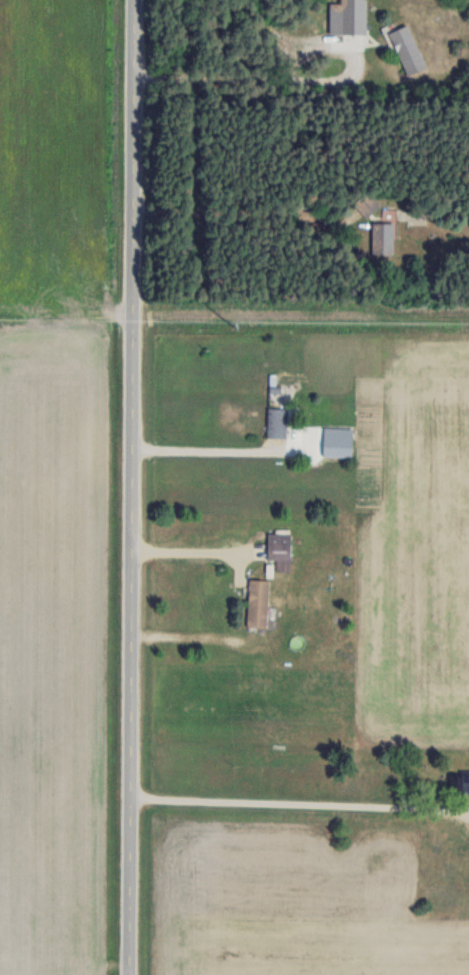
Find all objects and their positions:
building: (347, 16)
building: (406, 50)
road: (262, 78)
building: (366, 203)
road: (248, 210)
building: (382, 238)
power tower: (237, 327)
building: (276, 423)
road: (222, 450)
road: (134, 487)
building: (279, 548)
building: (257, 603)
building: (243, 681)
building: (459, 782)
road: (302, 803)

